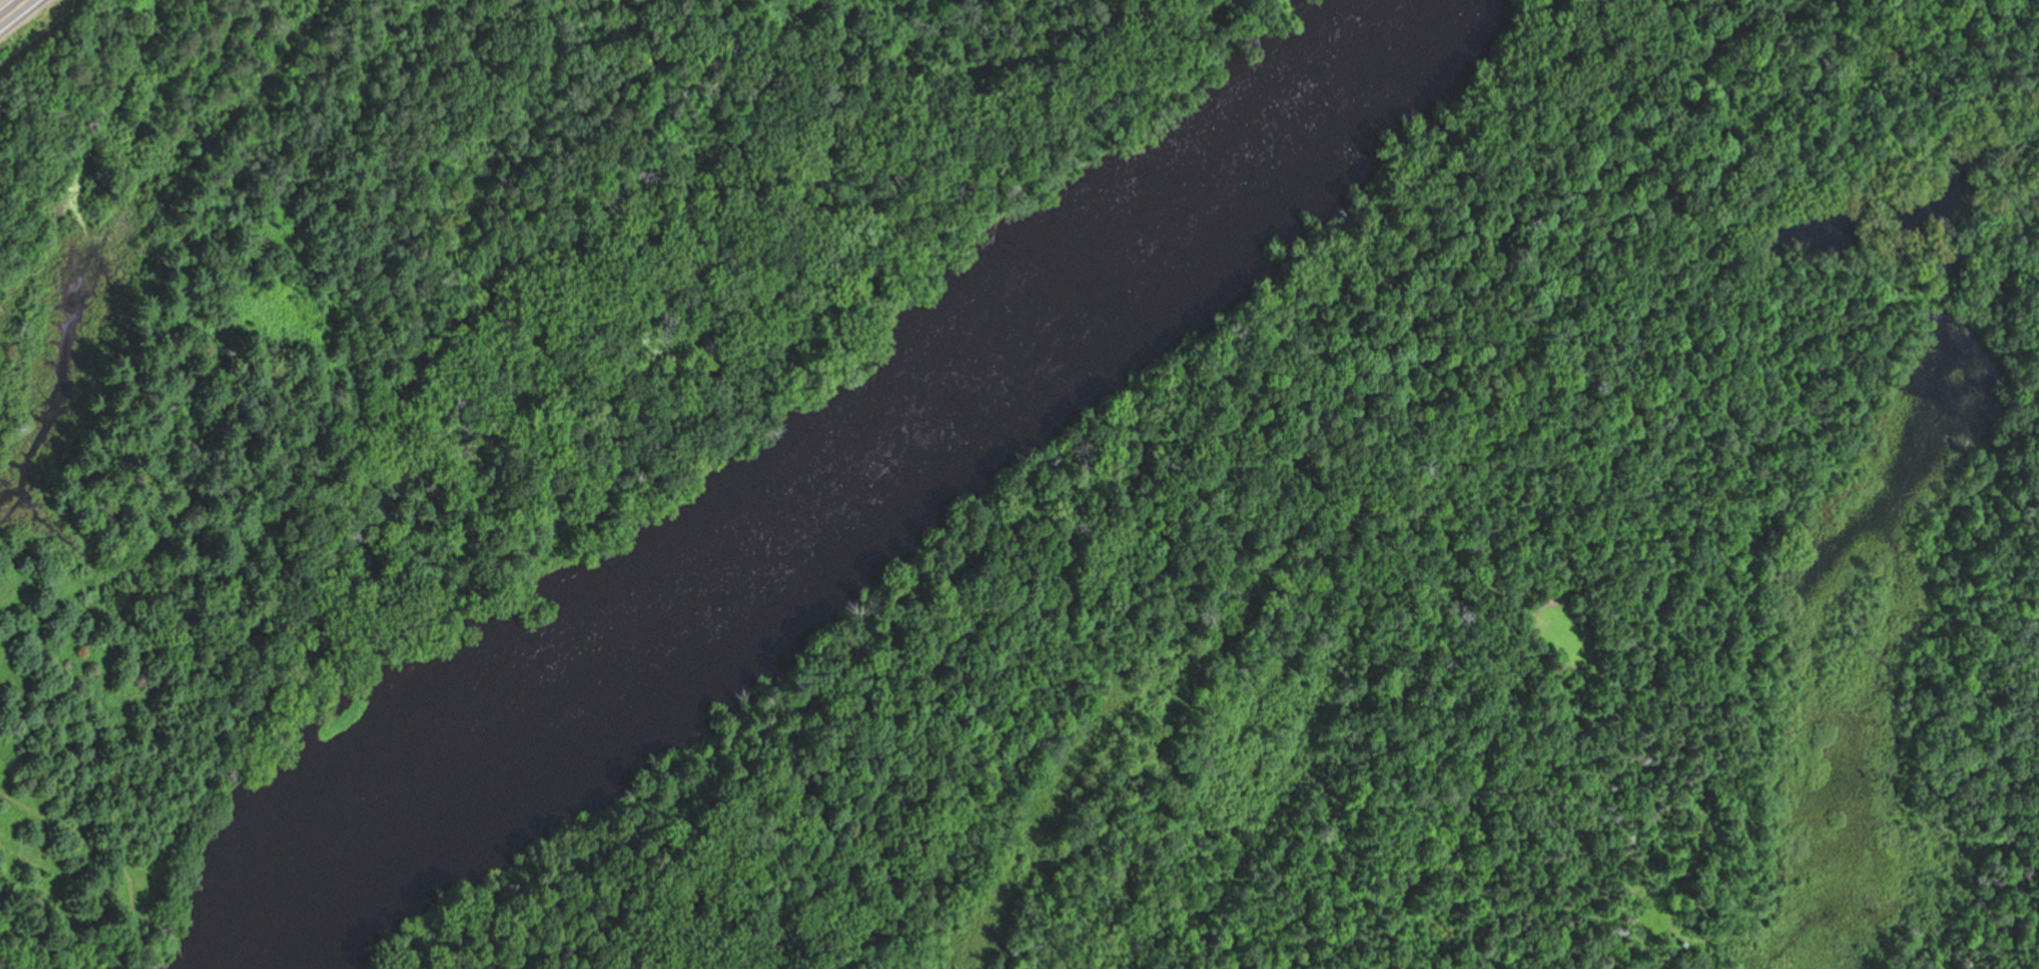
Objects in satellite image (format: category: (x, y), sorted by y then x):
road: (12, 10)
river: (852, 479)

